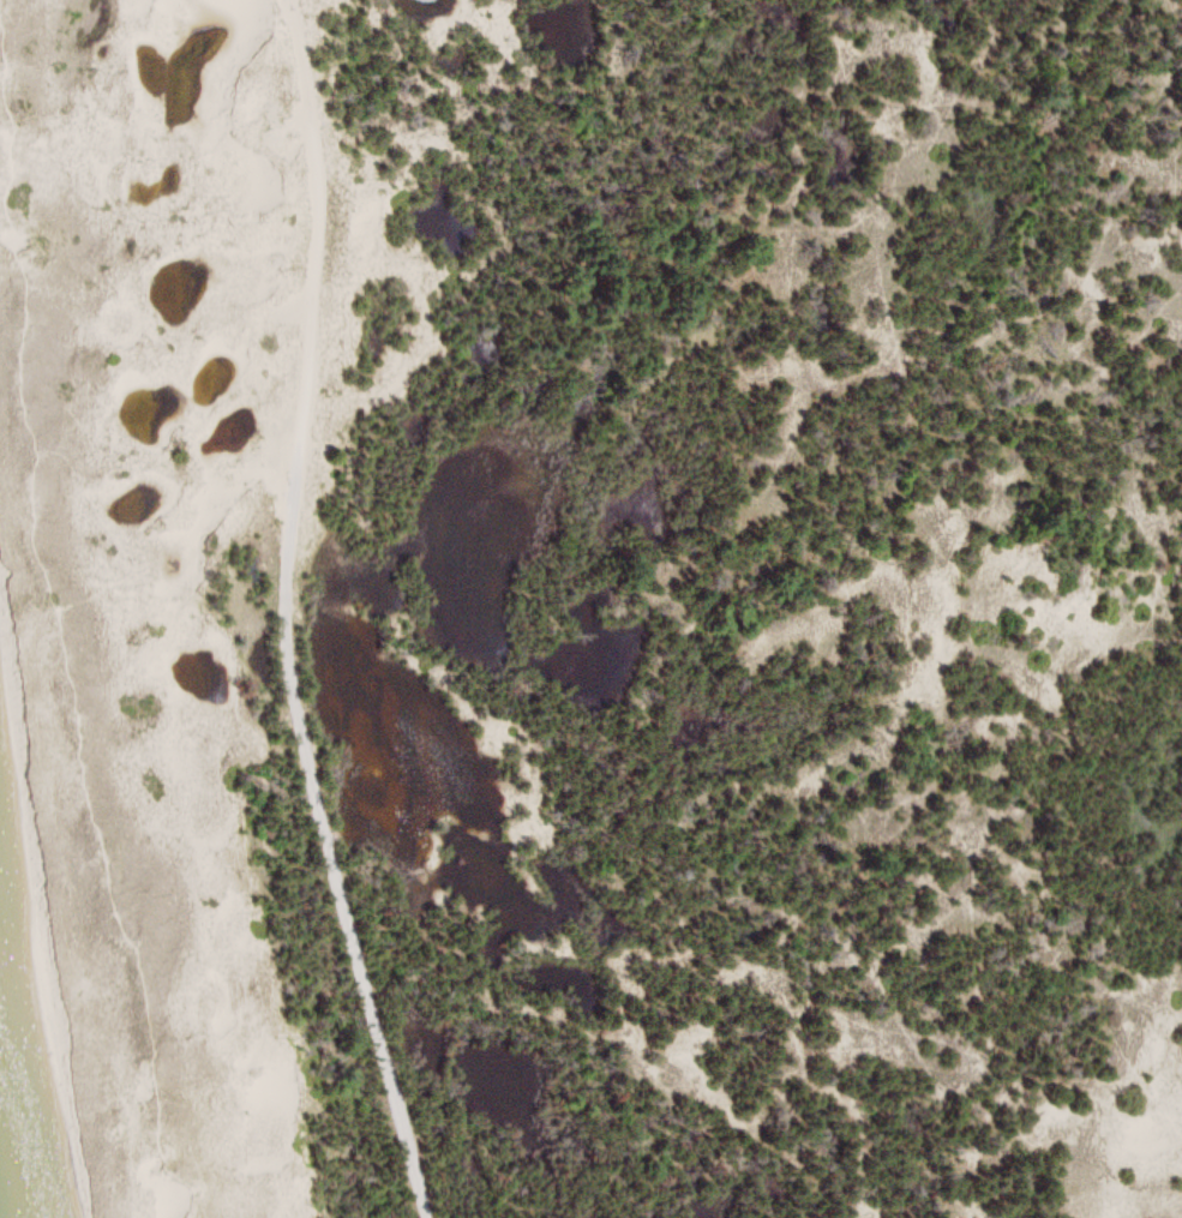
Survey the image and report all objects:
park: (590, 608)
road: (292, 614)

